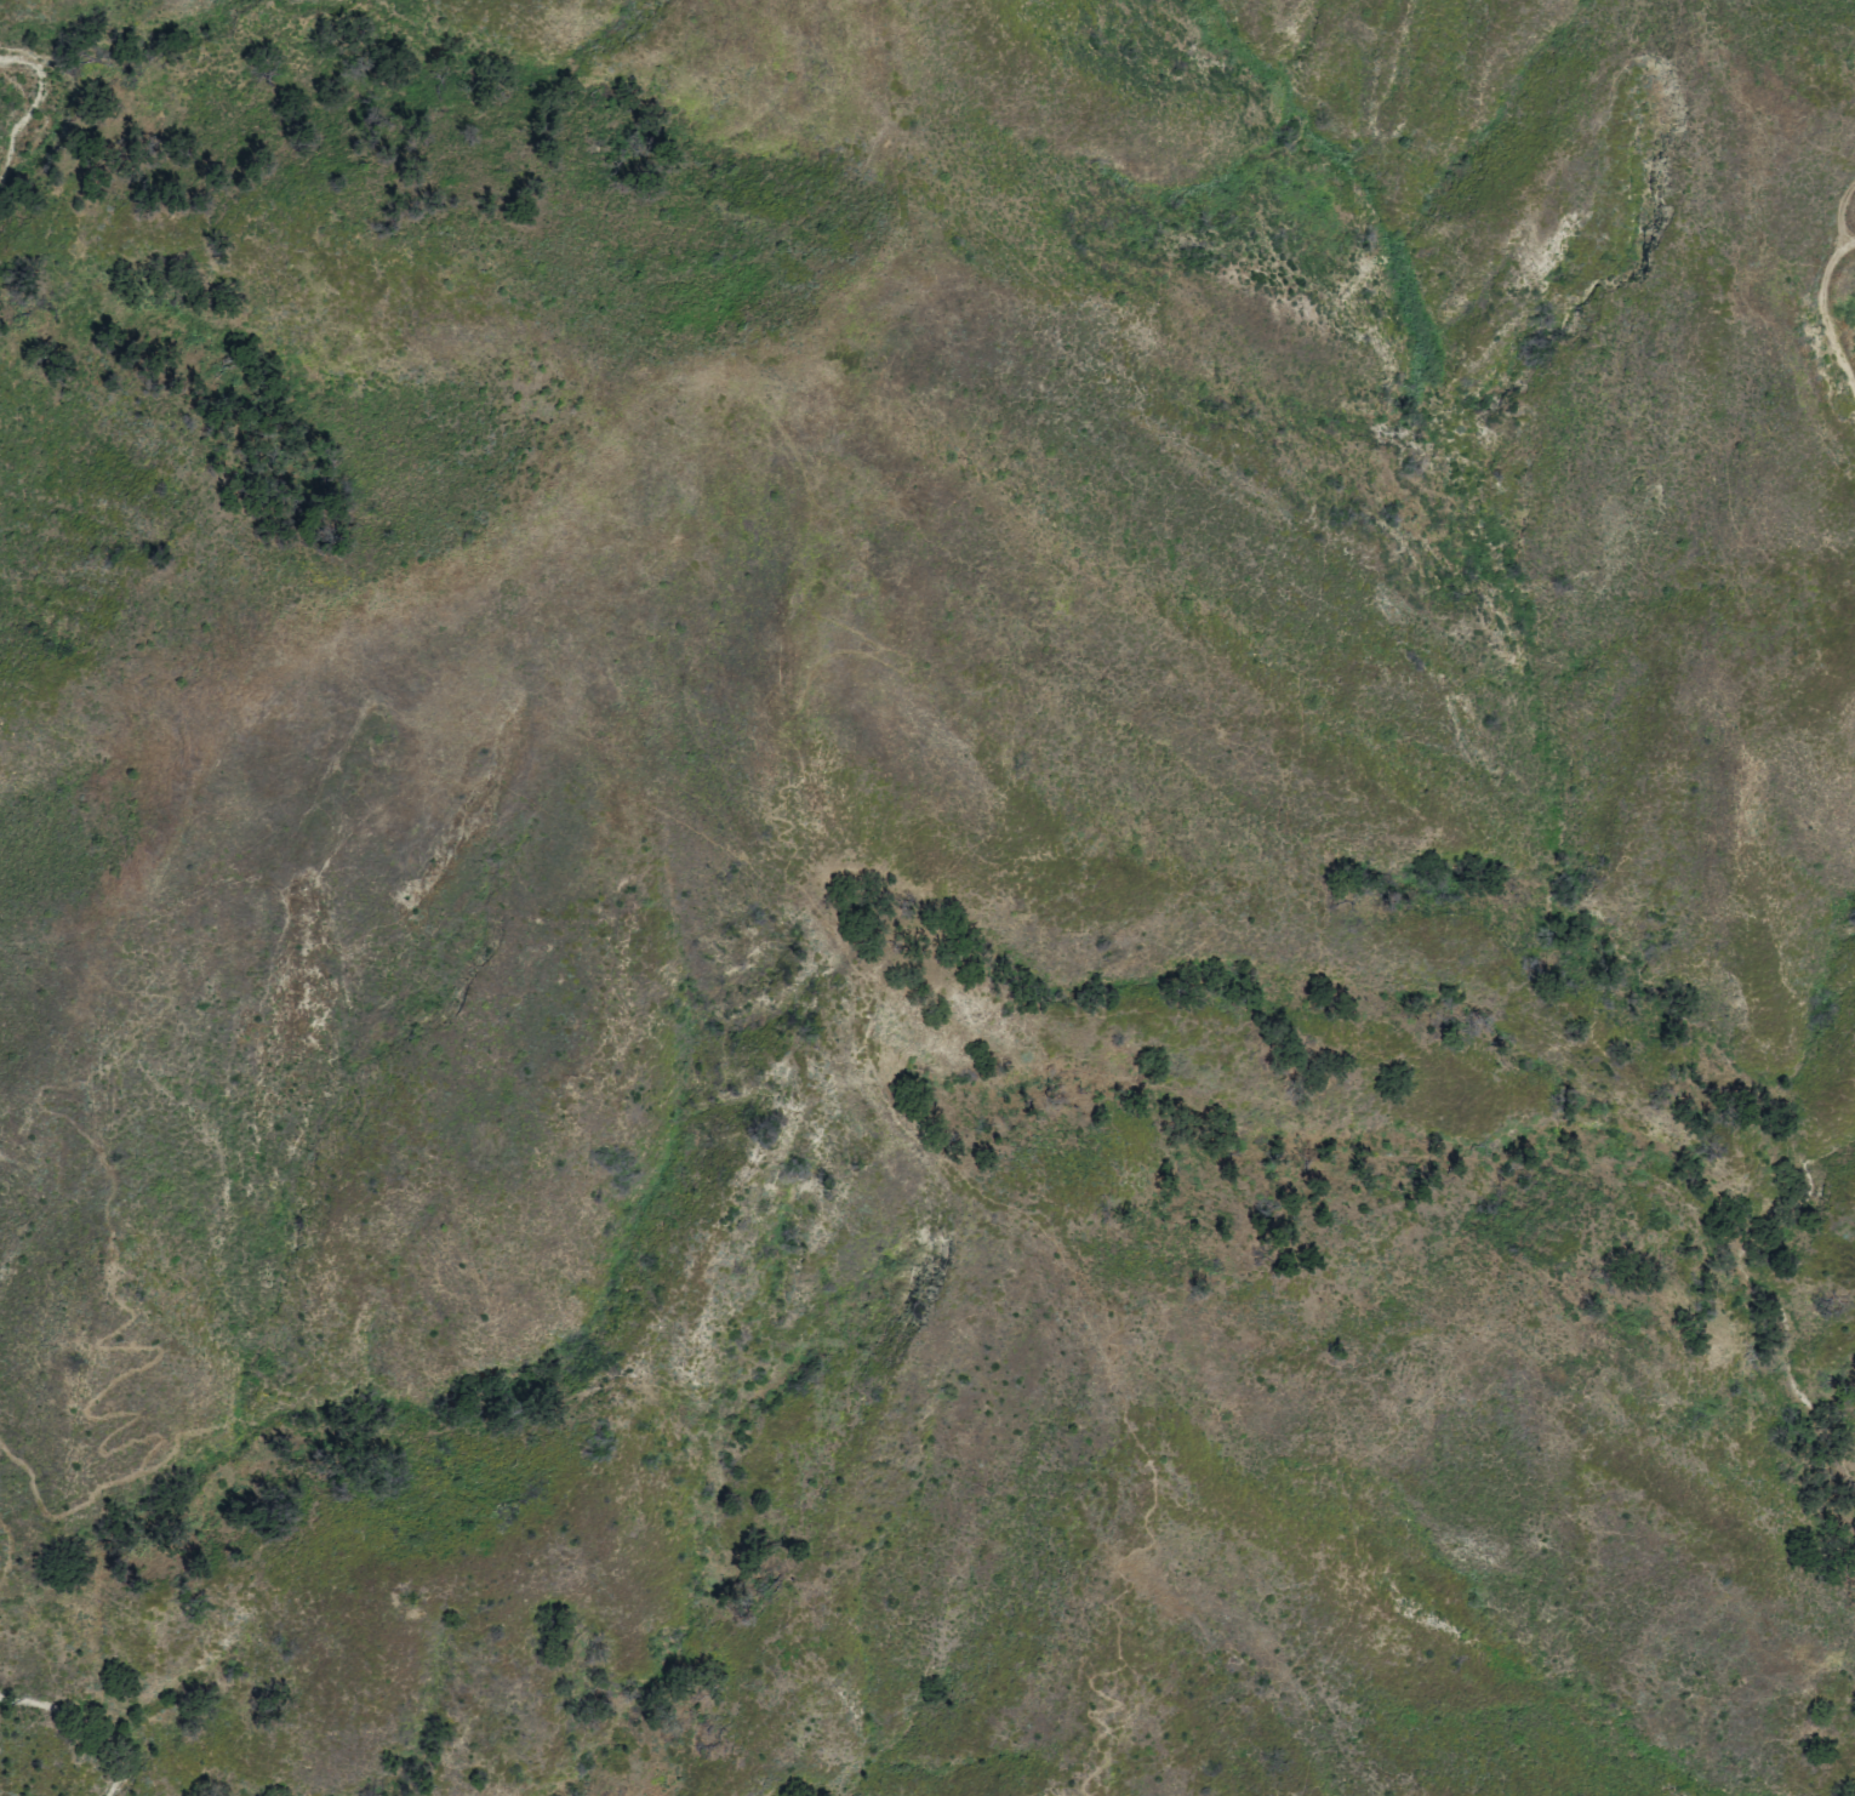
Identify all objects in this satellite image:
road: (0, 0)
road: (1809, 313)
road: (611, 415)
road: (104, 1671)
road: (611, 1779)

